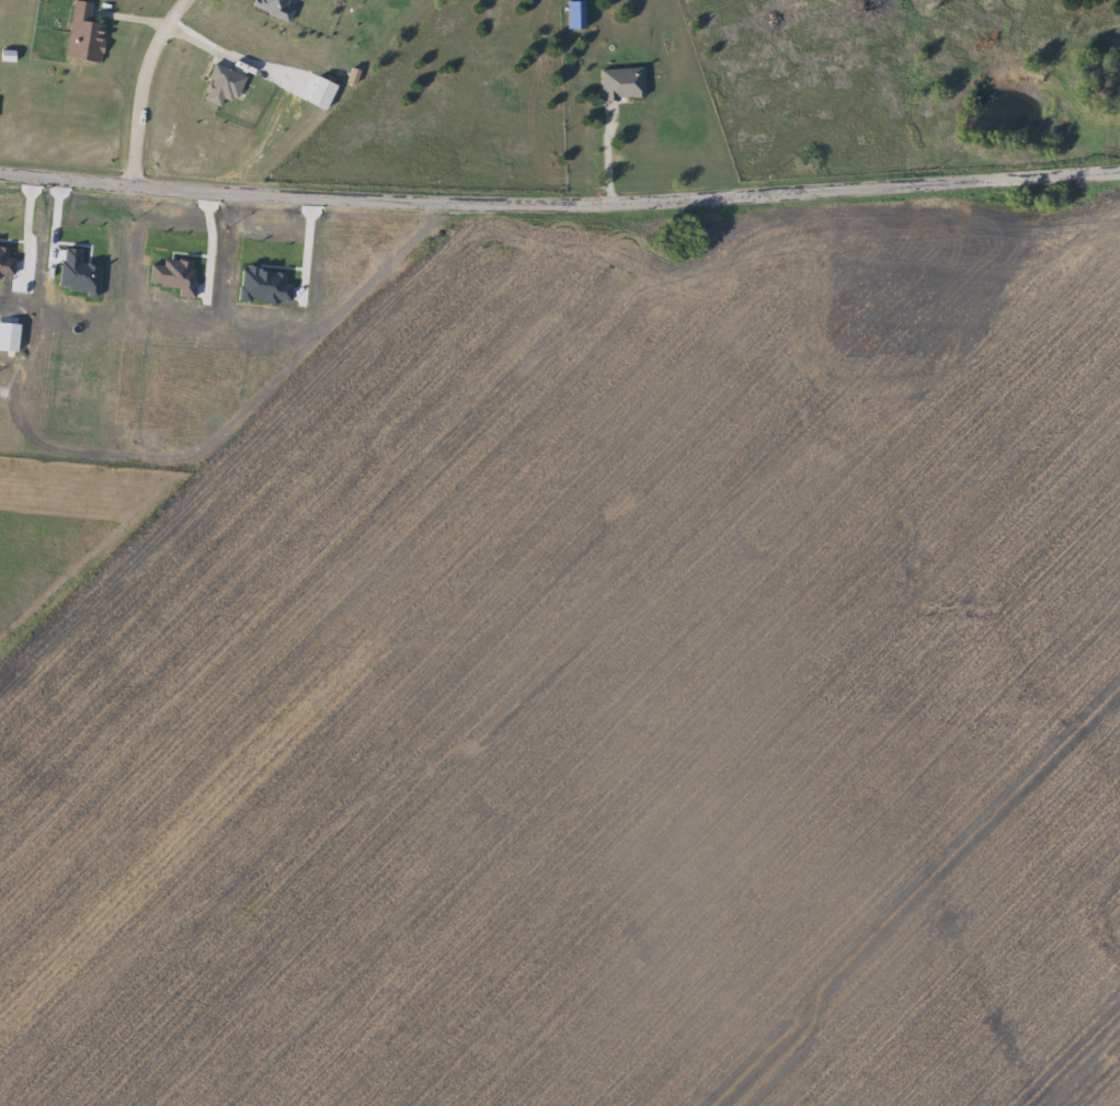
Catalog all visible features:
building: (276, 8)
building: (571, 13)
building: (87, 34)
building: (618, 82)
road: (144, 90)
road: (602, 155)
road: (560, 205)

